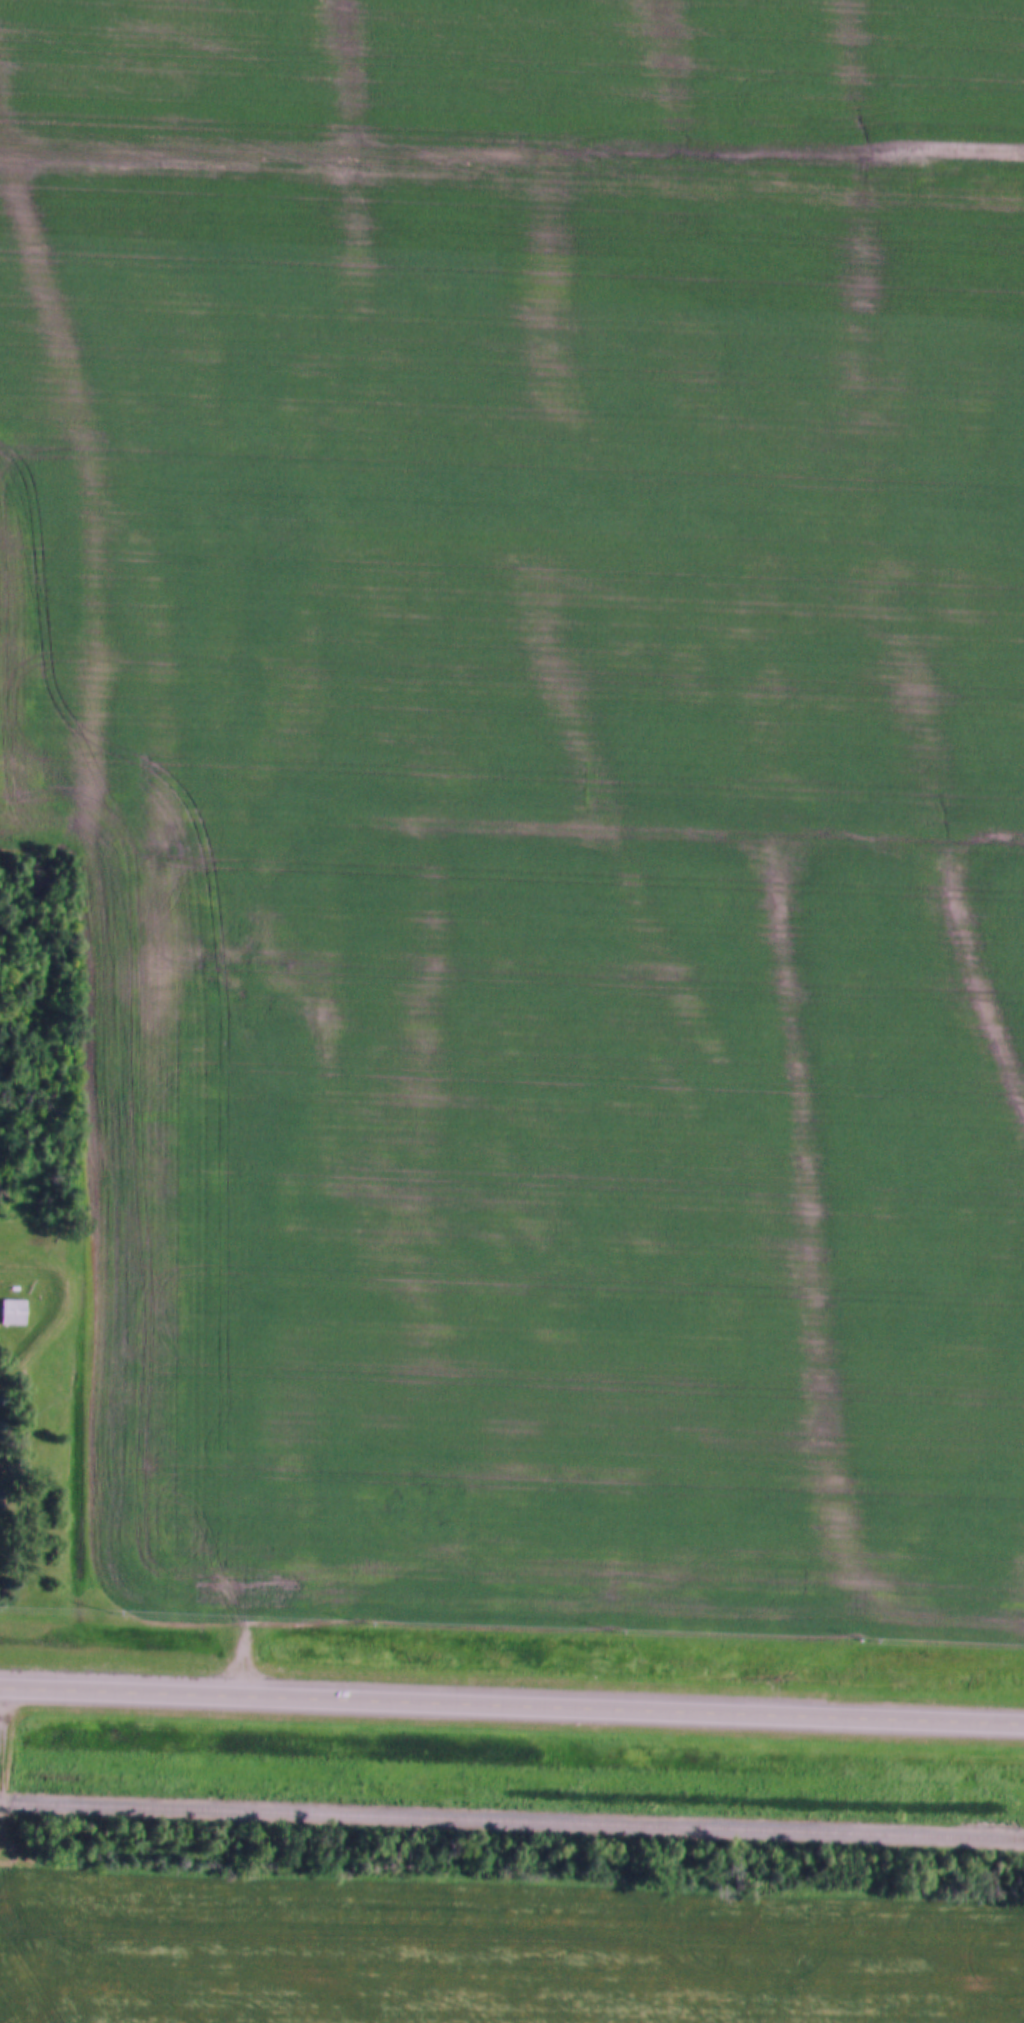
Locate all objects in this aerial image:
road: (512, 1708)
road: (1, 1775)
railway: (511, 1821)

